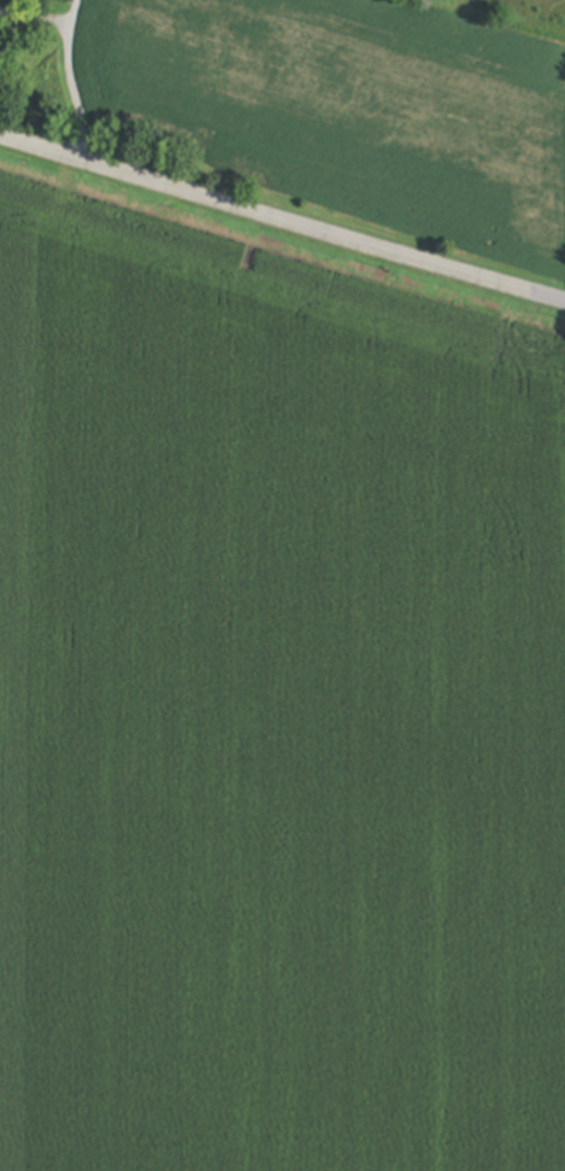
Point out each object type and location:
building: (10, 19)
road: (69, 80)
road: (281, 221)

